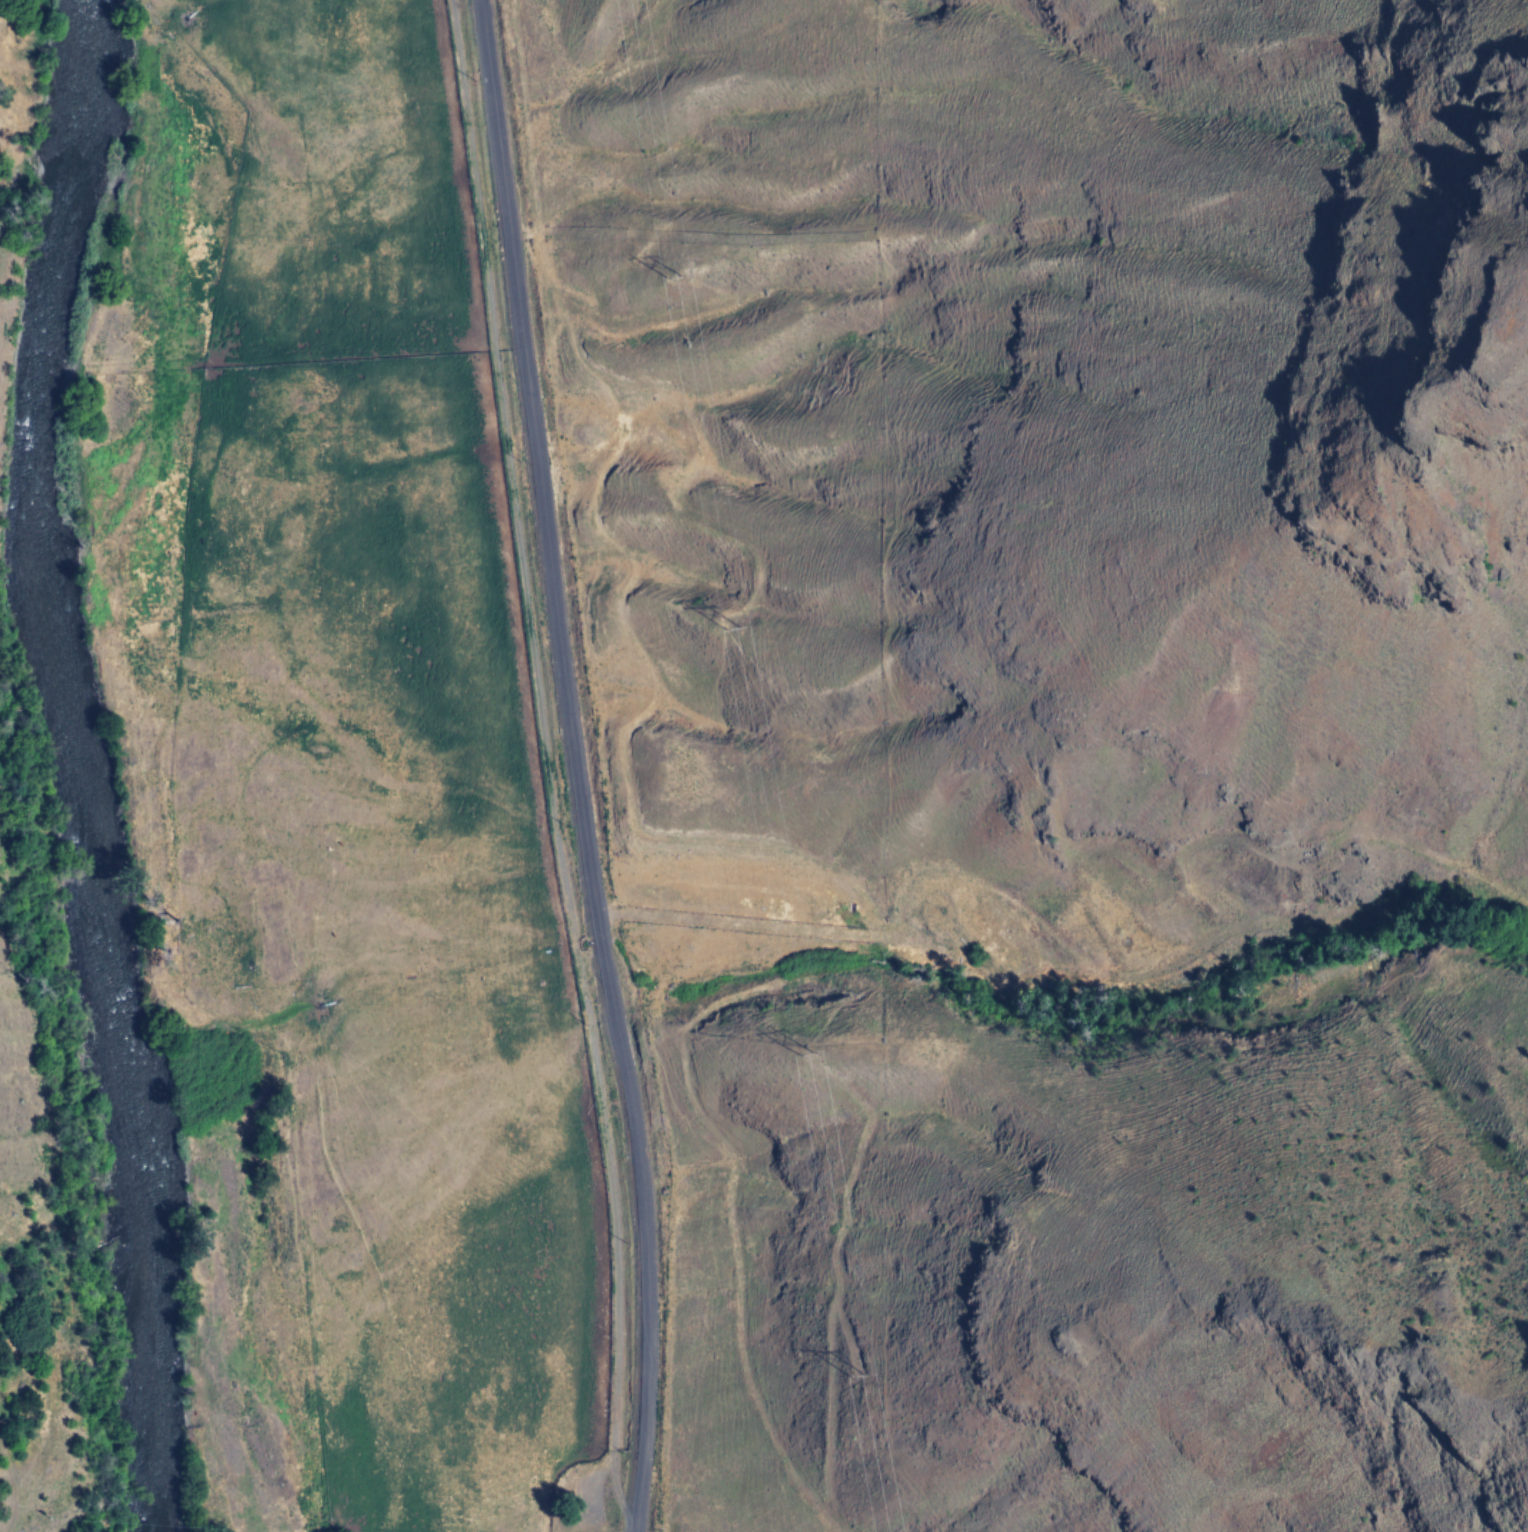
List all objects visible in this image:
power tower: (670, 278)
power tower: (730, 630)
road: (573, 765)
river: (79, 766)
power tower: (798, 1053)
power tower: (854, 1376)

